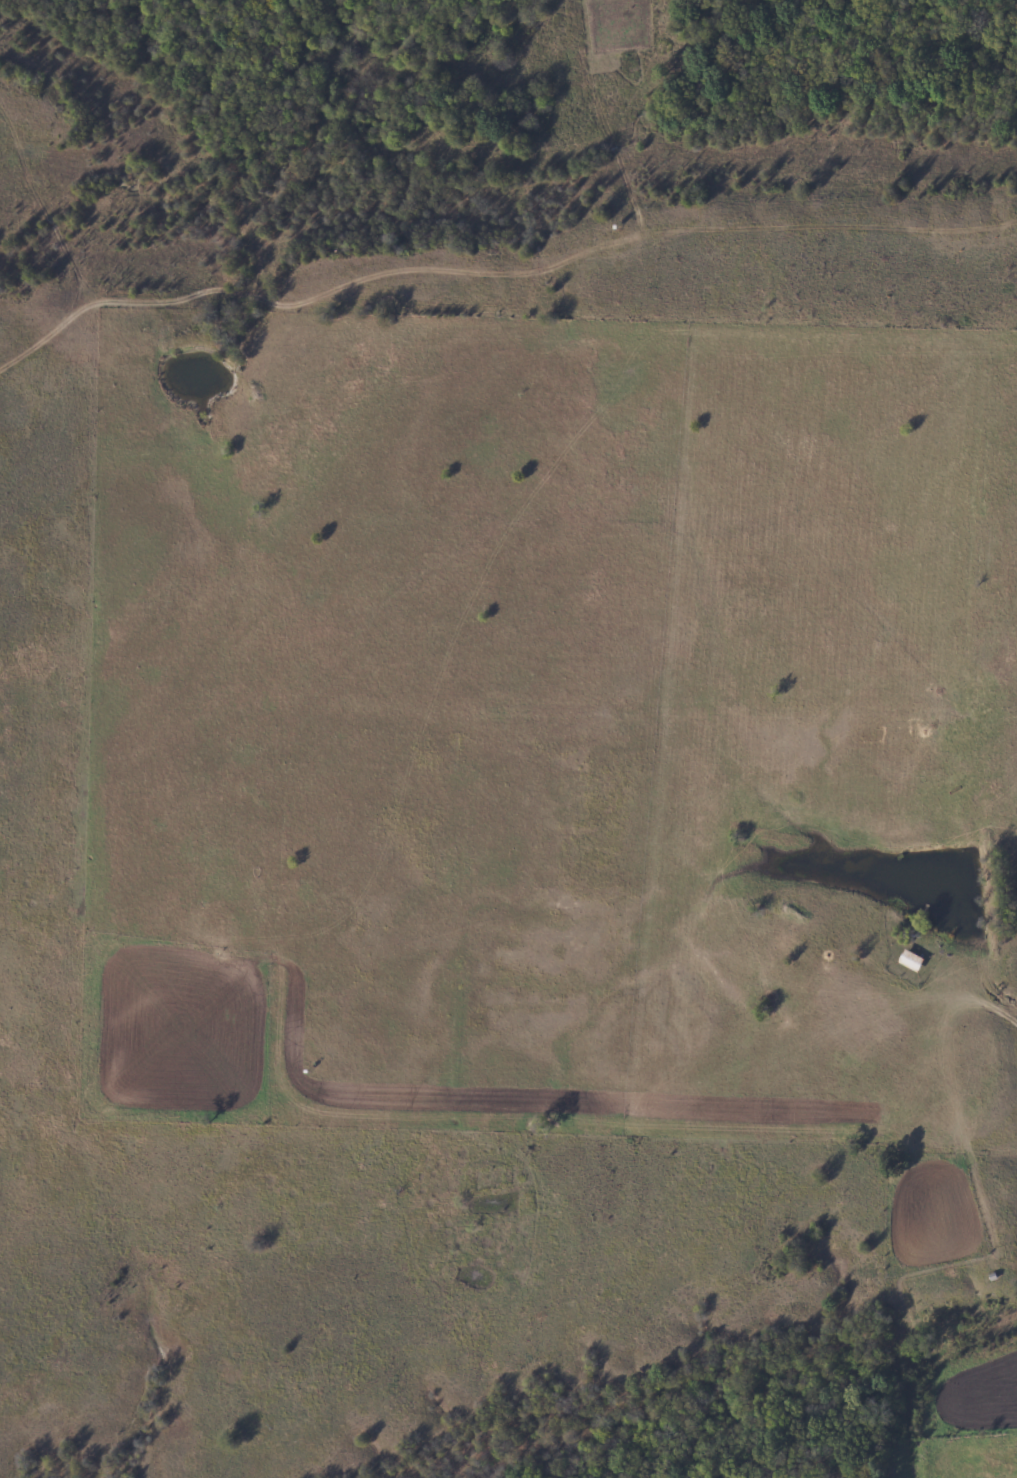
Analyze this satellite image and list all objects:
building: (911, 962)

